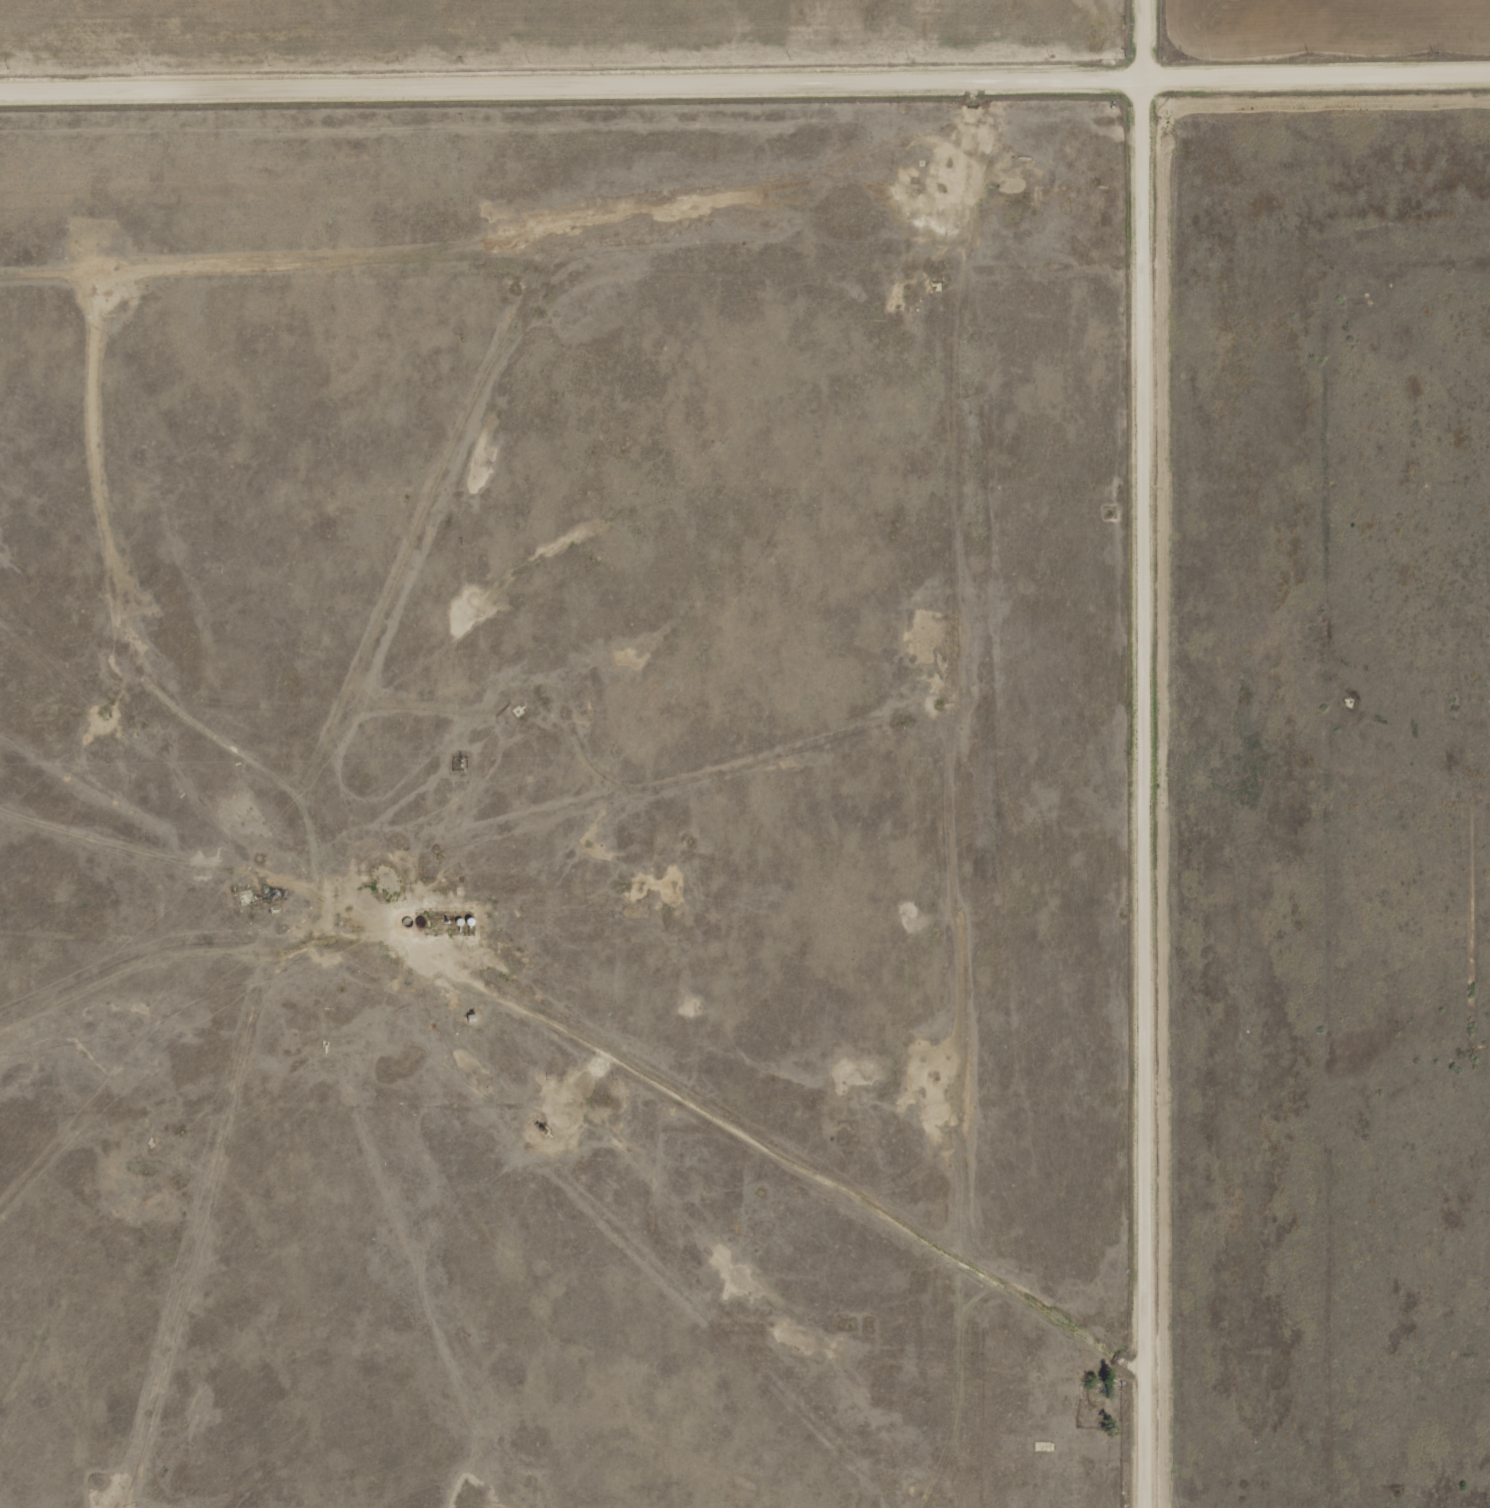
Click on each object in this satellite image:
road: (744, 81)
road: (1150, 753)

